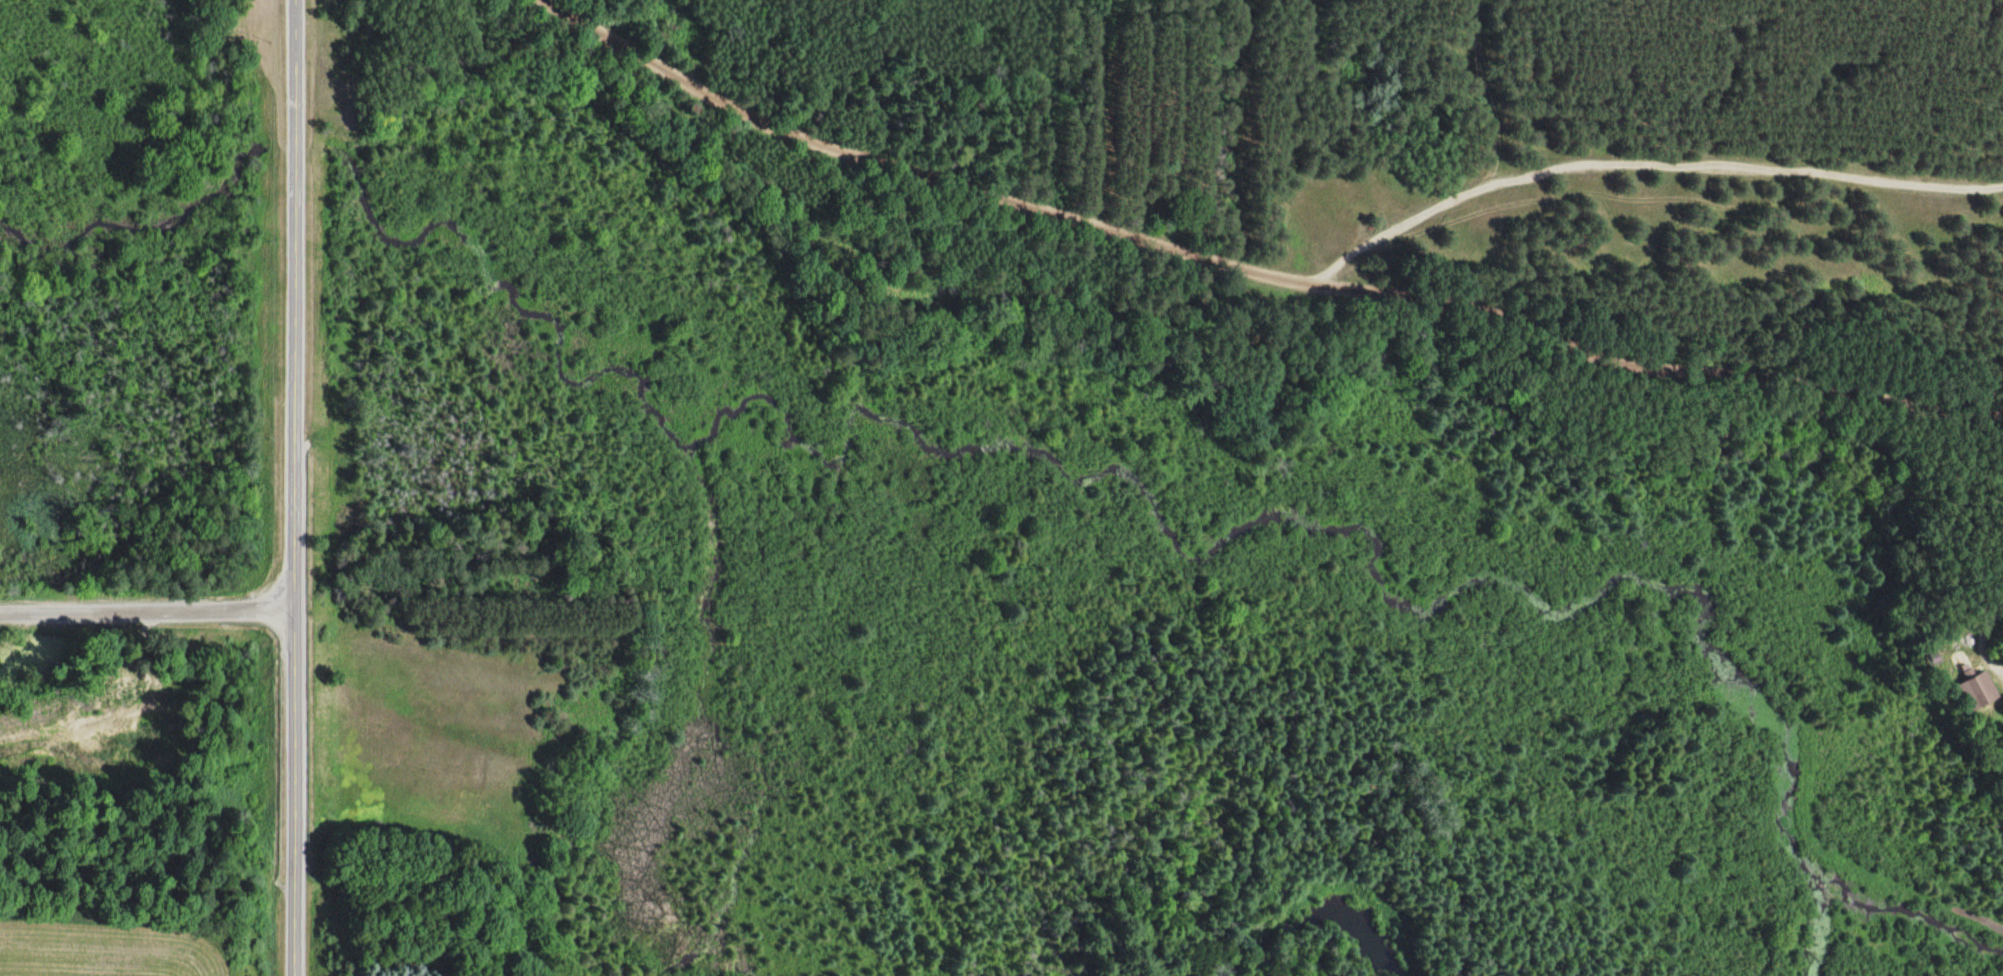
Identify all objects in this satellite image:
road: (1257, 270)
road: (1654, 376)
road: (287, 487)
road: (143, 614)
building: (1980, 691)

